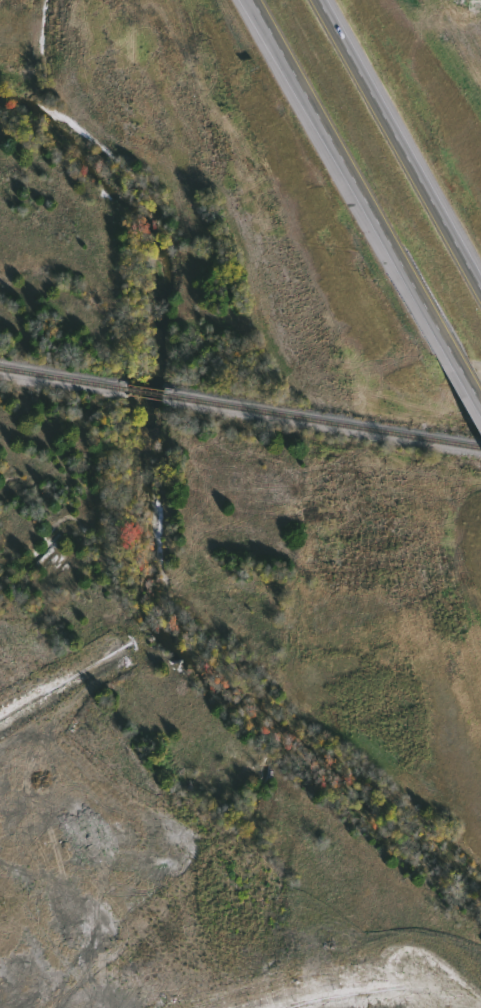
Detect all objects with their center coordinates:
road: (400, 152)
road: (348, 178)
railway: (66, 373)
railway: (150, 388)
road: (461, 391)
railway: (324, 418)

